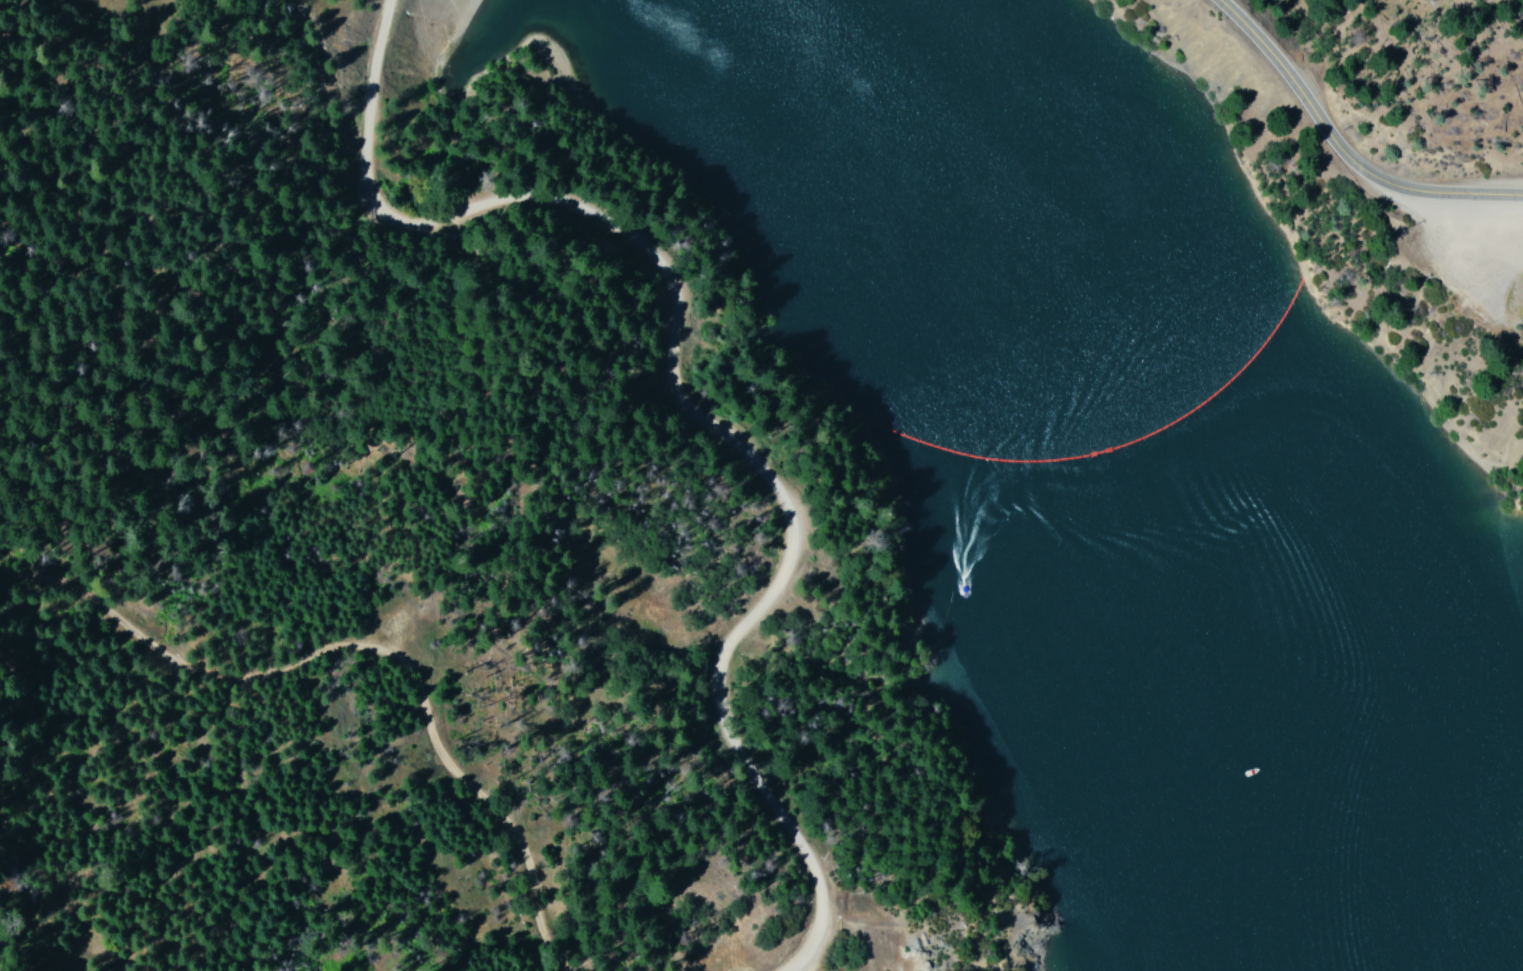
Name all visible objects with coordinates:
dam: (415, 55)
road: (1360, 122)
river: (1010, 129)
road: (721, 386)
river: (1170, 465)
river: (1299, 818)

